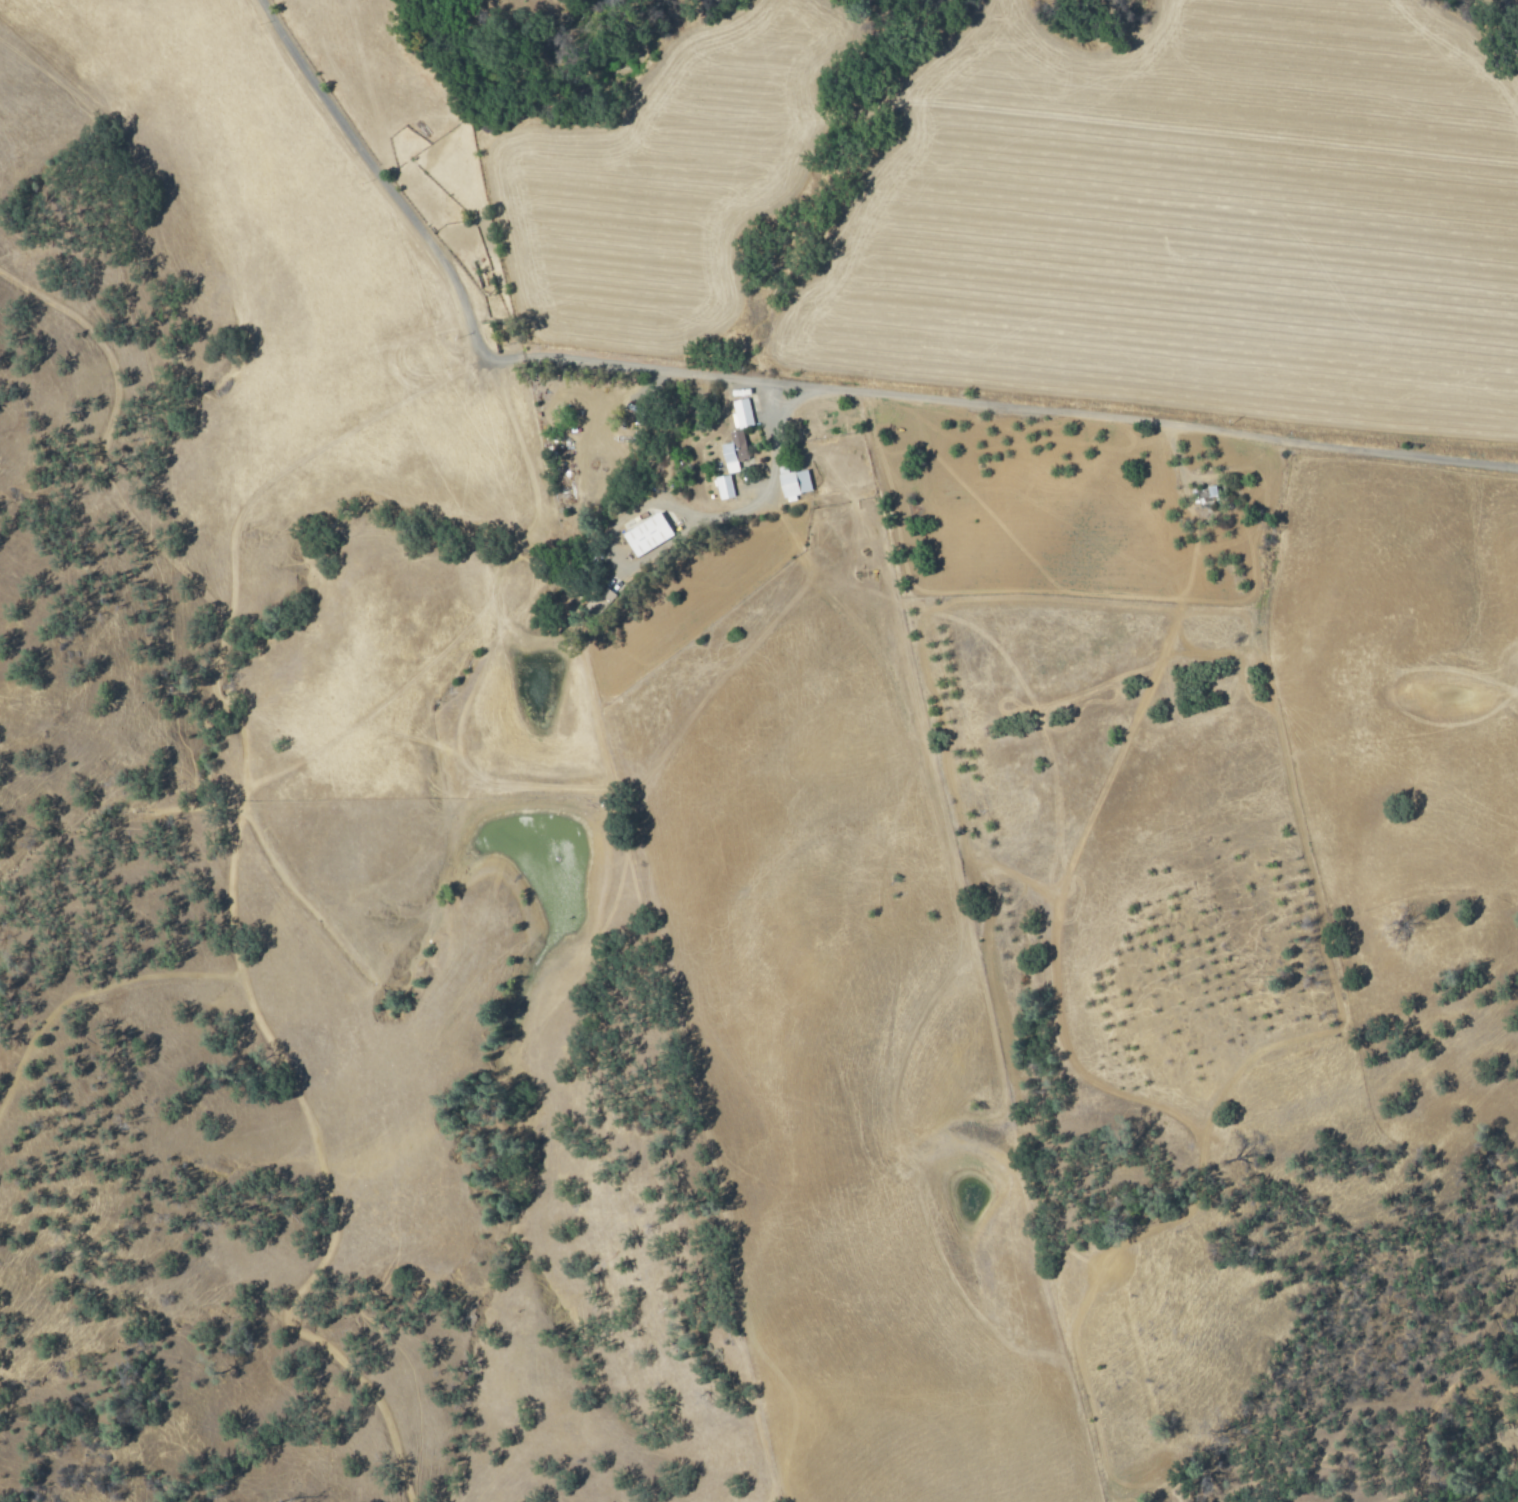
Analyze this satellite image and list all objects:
road: (405, 194)
road: (767, 399)
road: (1029, 410)
building: (742, 411)
building: (730, 455)
road: (772, 471)
building: (795, 482)
building: (725, 485)
building: (1213, 489)
building: (648, 533)

